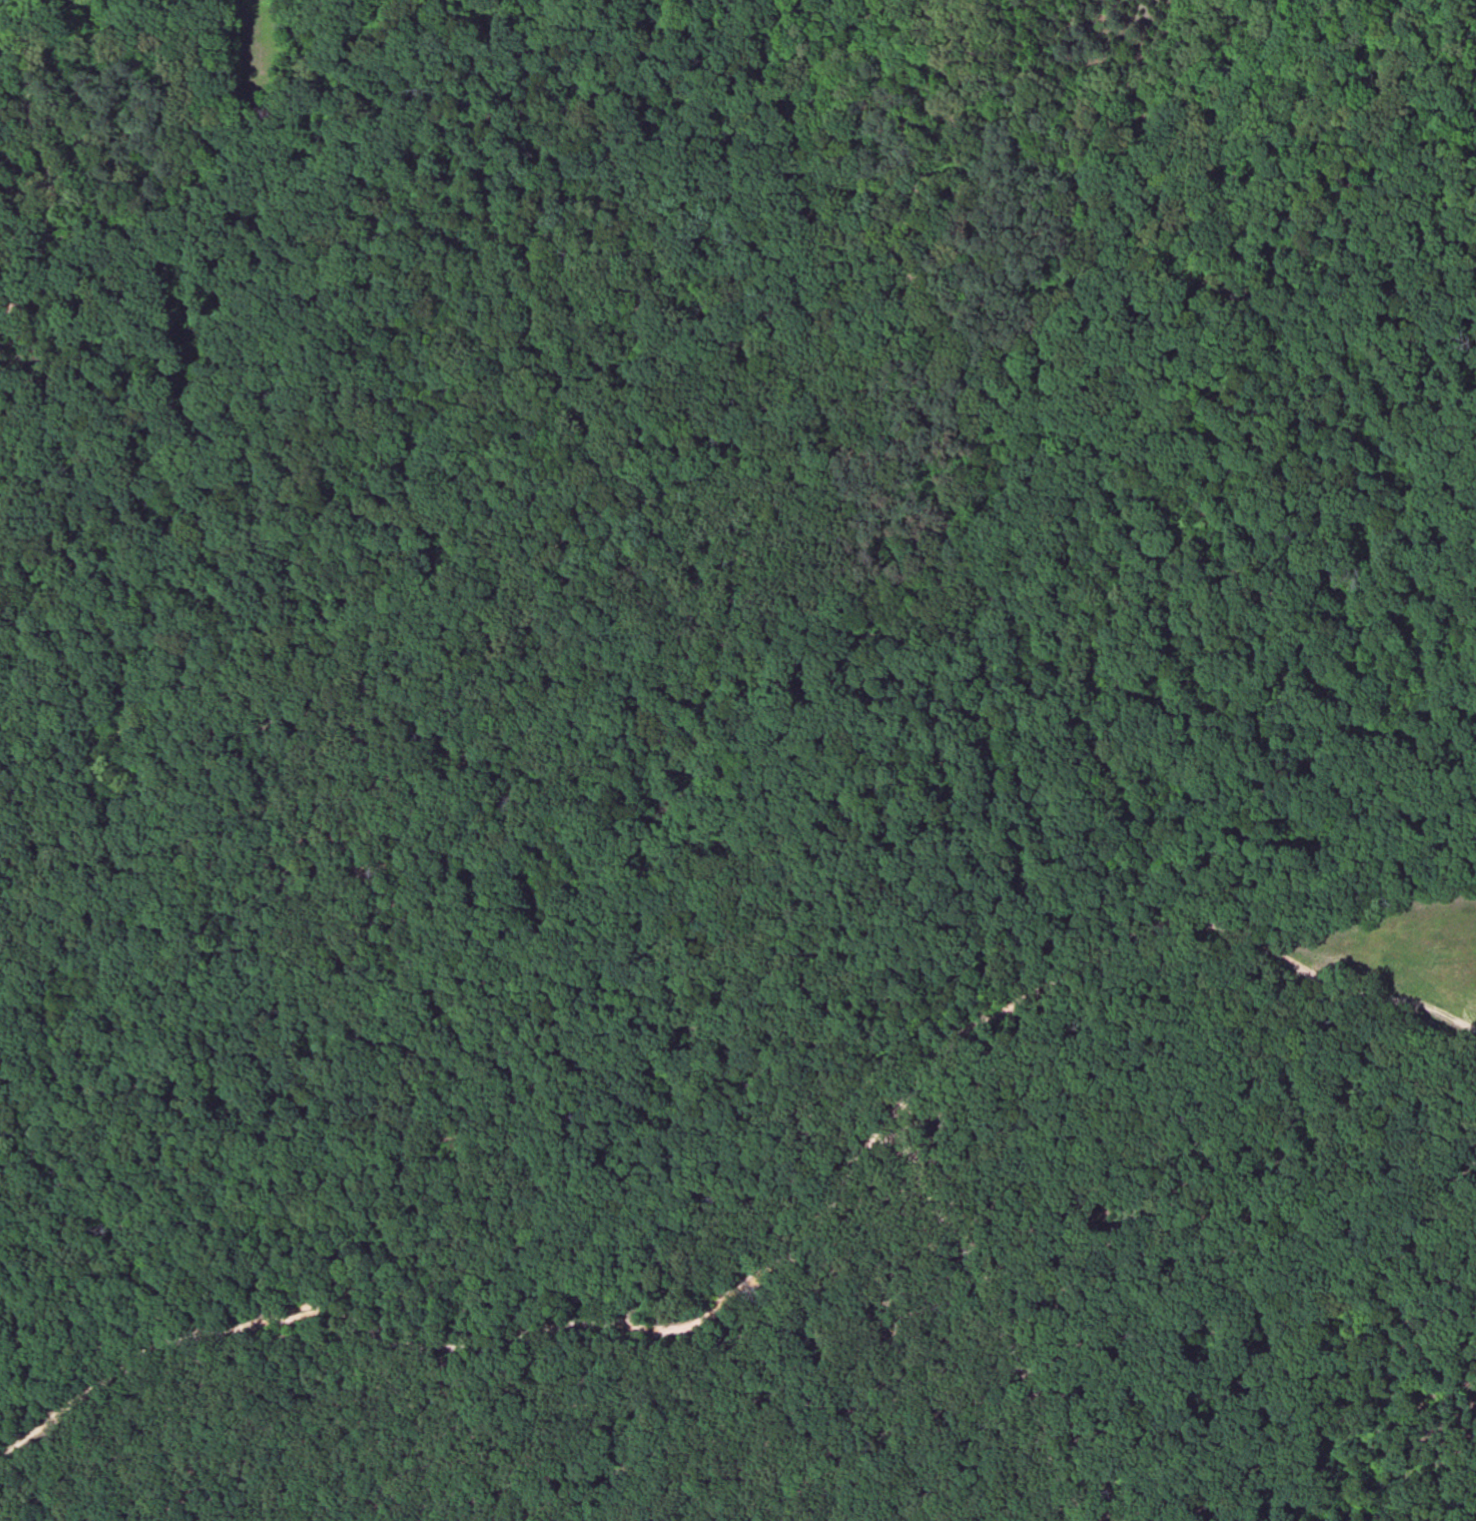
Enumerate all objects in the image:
road: (42, 171)
road: (786, 1266)
road: (997, 1307)

